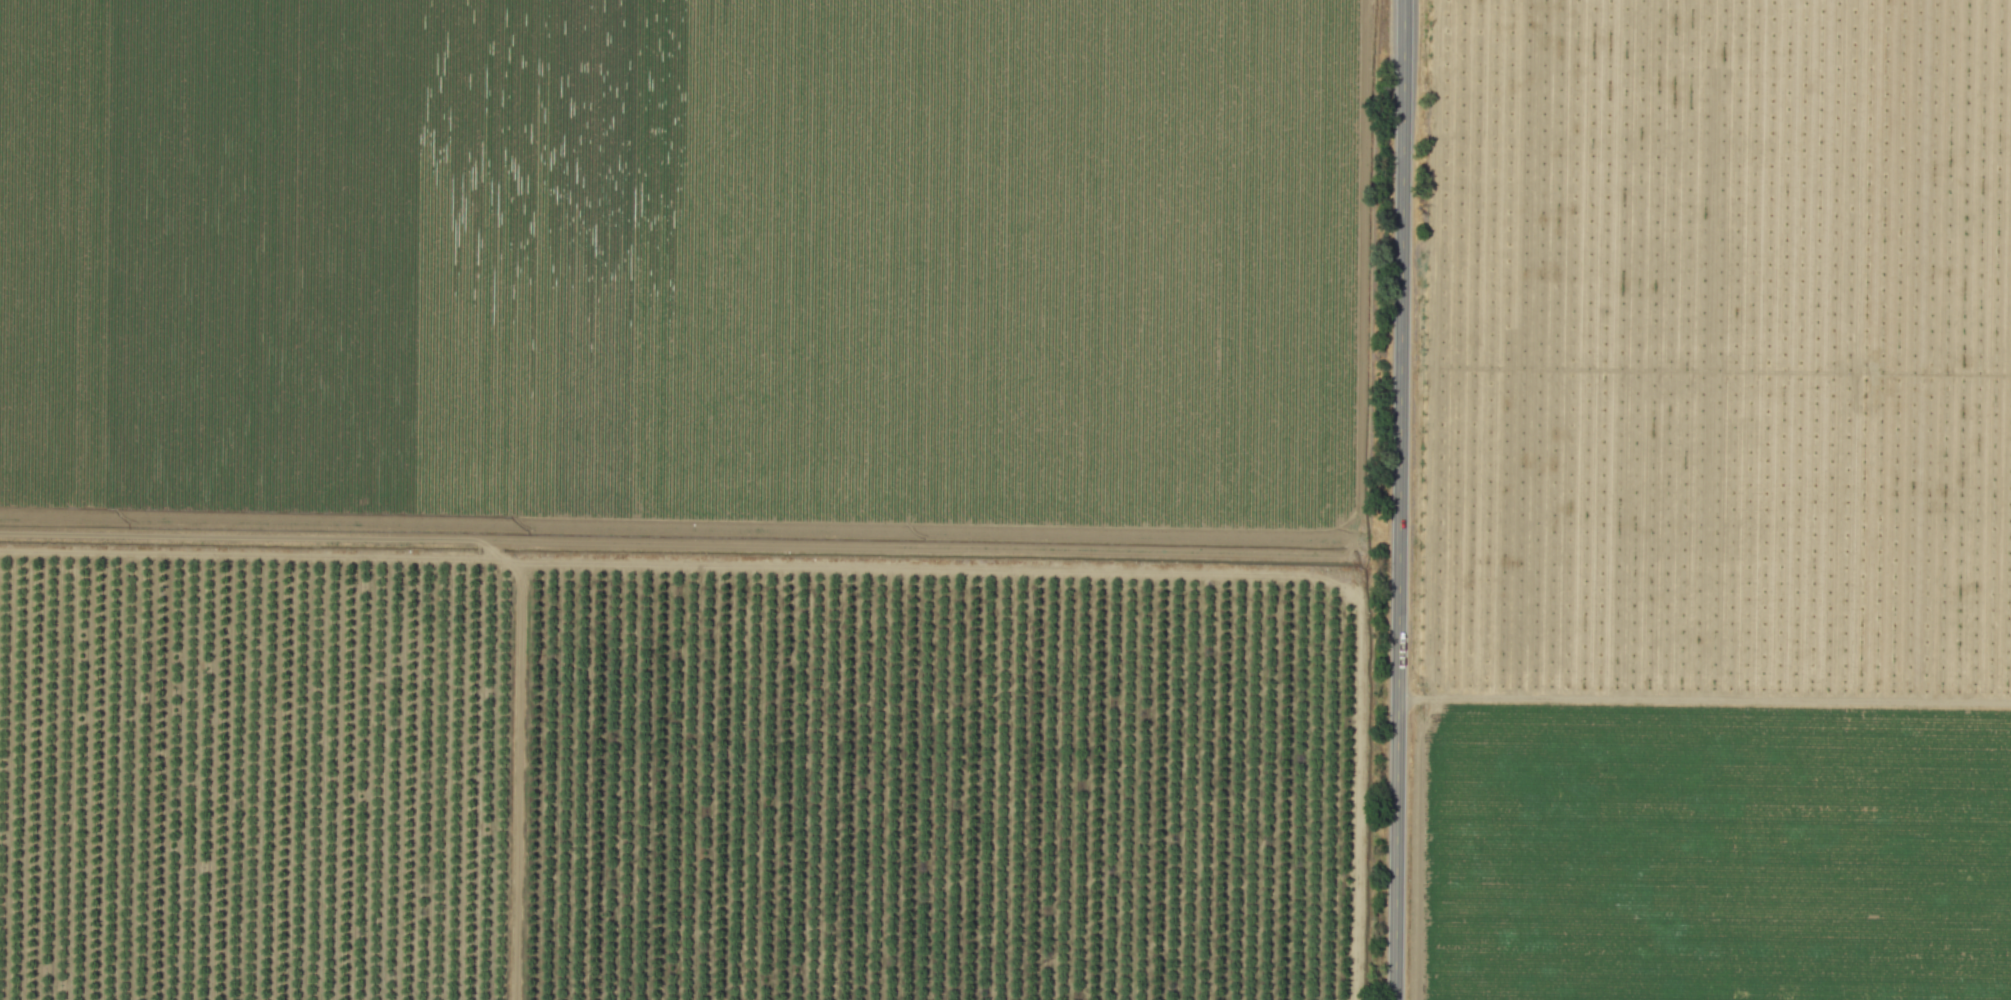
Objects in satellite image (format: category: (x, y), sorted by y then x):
road: (1397, 500)

